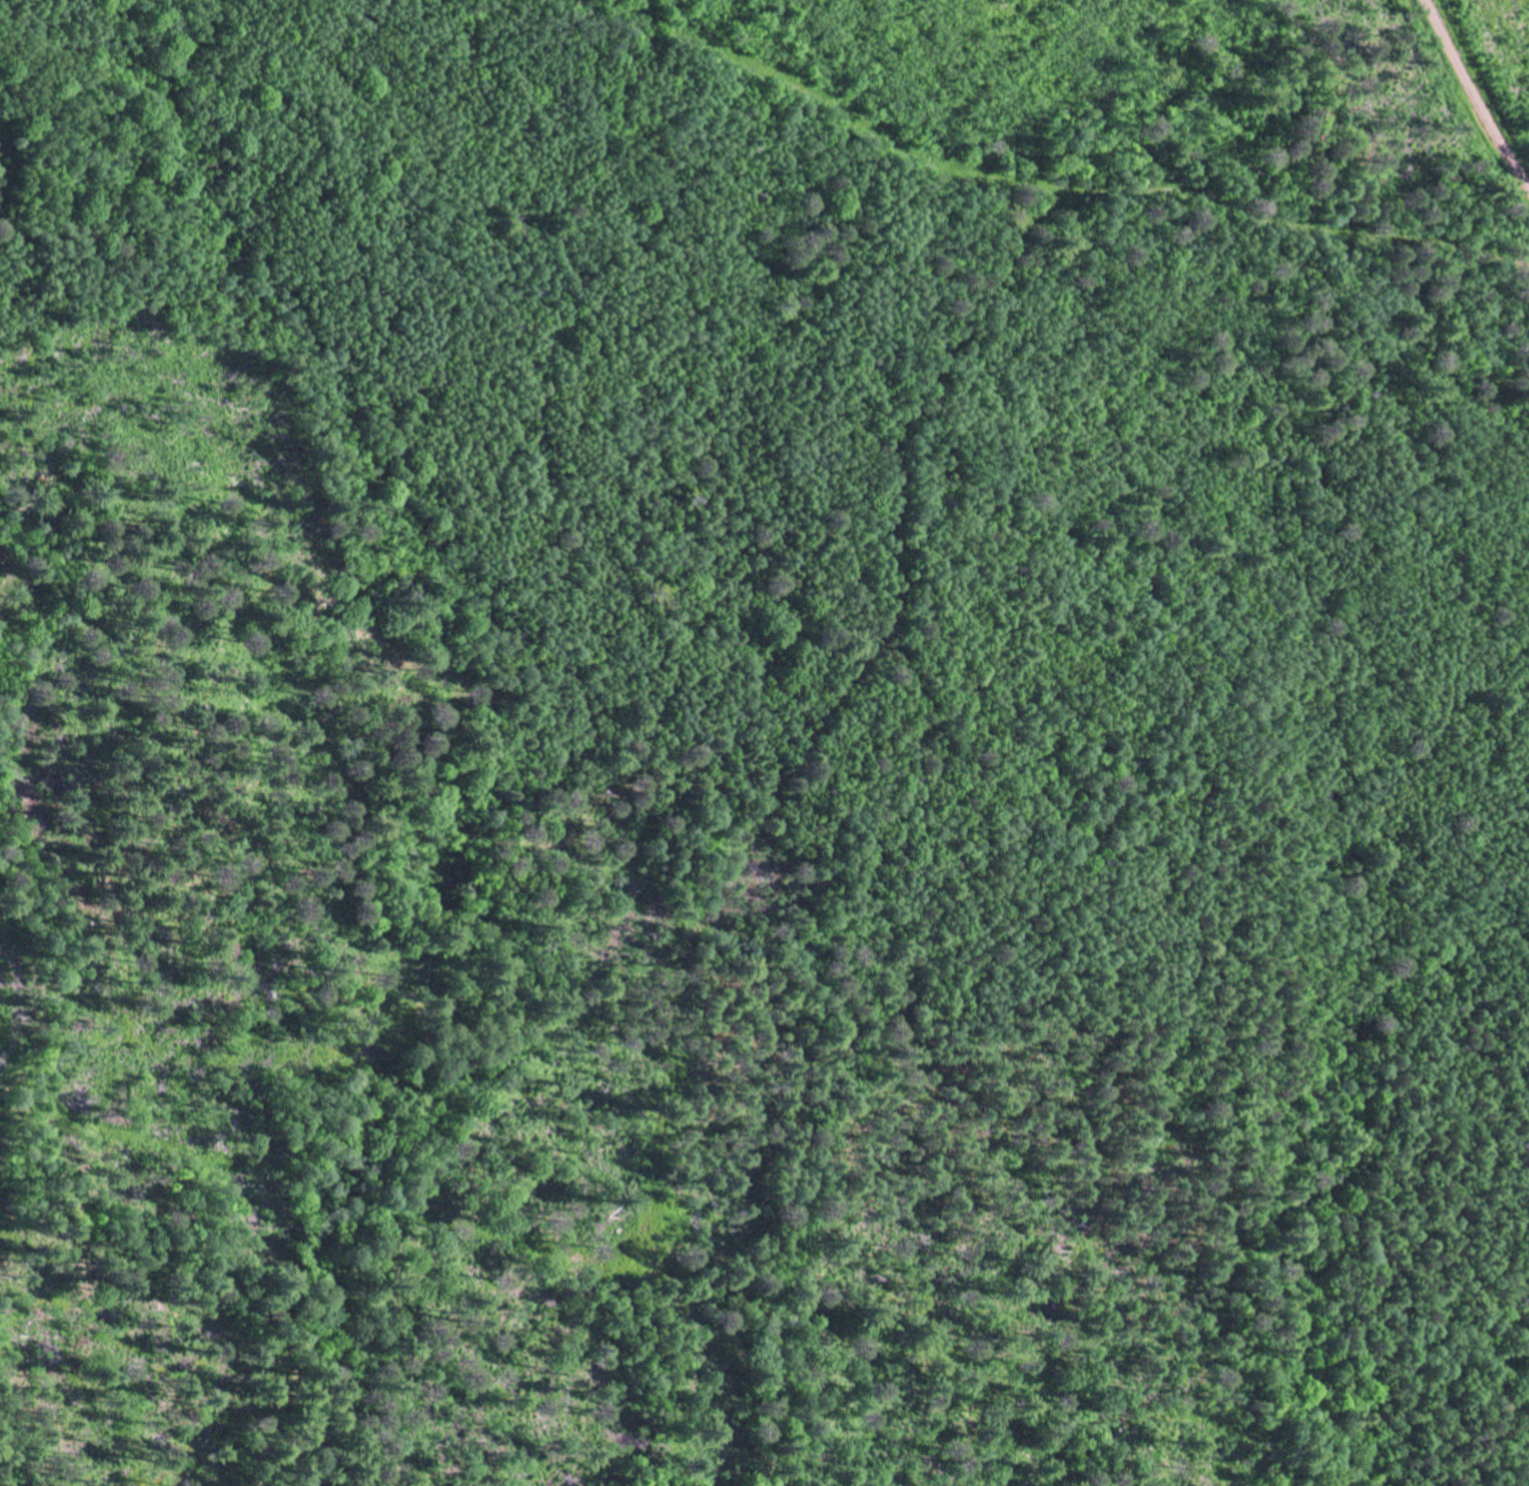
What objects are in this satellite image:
road: (1452, 57)
road: (1505, 151)

